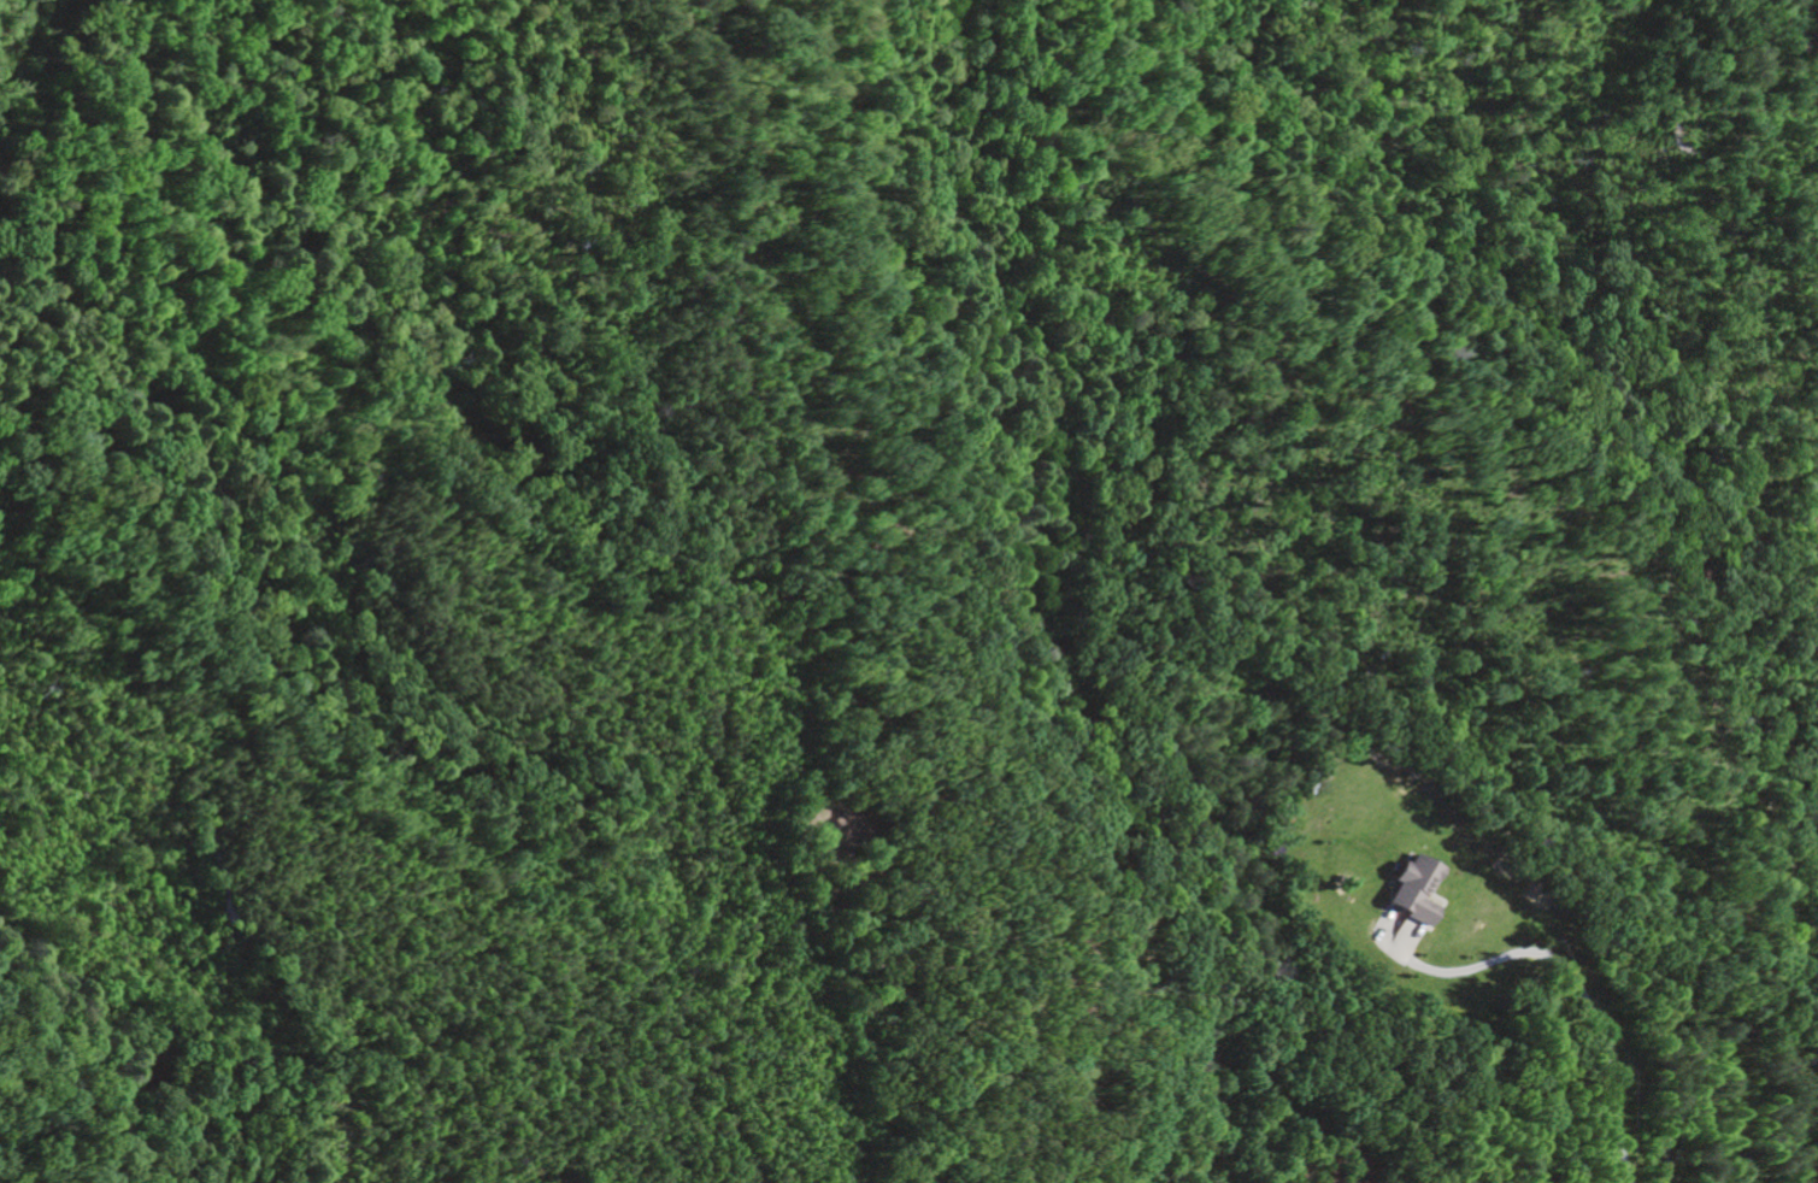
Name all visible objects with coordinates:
building: (1408, 893)
building: (1384, 926)

